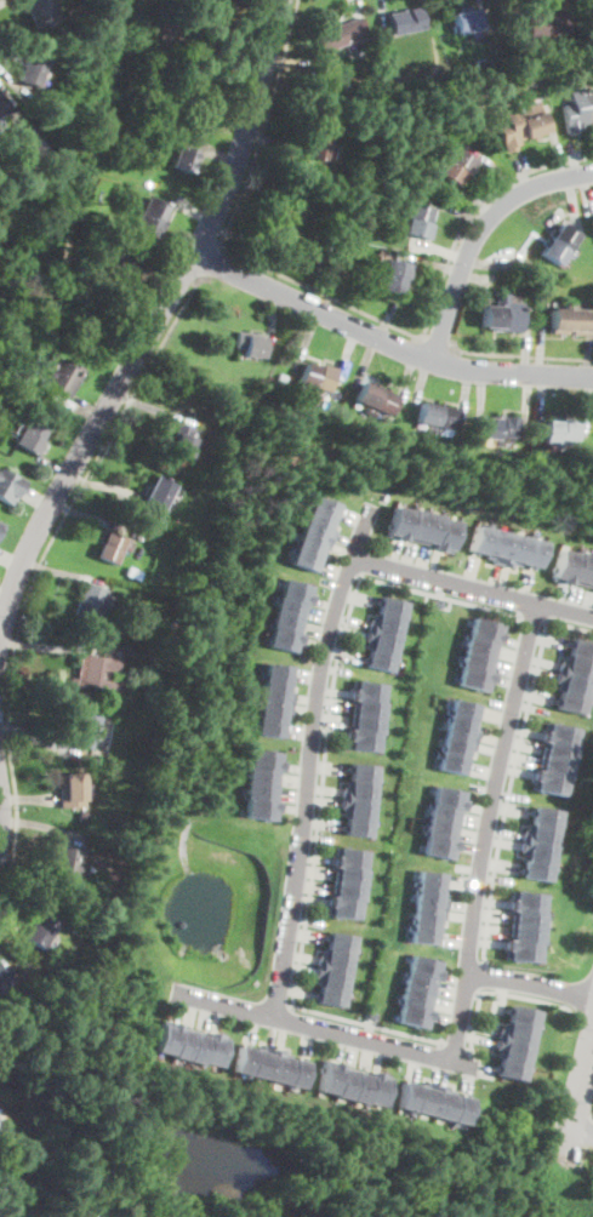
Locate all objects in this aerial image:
road: (2, 1)
road: (483, 4)
road: (353, 6)
building: (39, 8)
road: (509, 15)
road: (382, 16)
building: (549, 19)
building: (406, 21)
building: (468, 21)
building: (341, 35)
building: (213, 41)
building: (572, 47)
building: (491, 62)
building: (479, 63)
building: (32, 65)
road: (245, 65)
building: (395, 79)
building: (520, 81)
road: (238, 84)
road: (5, 90)
building: (201, 97)
building: (588, 103)
building: (2, 105)
building: (575, 113)
building: (532, 120)
building: (511, 128)
building: (321, 136)
building: (33, 138)
road: (219, 154)
road: (286, 155)
road: (558, 155)
building: (182, 159)
building: (461, 159)
road: (574, 159)
road: (495, 168)
building: (450, 171)
road: (523, 175)
building: (423, 178)
road: (587, 194)
road: (571, 200)
road: (475, 201)
road: (195, 210)
building: (421, 211)
road: (462, 212)
building: (152, 218)
building: (592, 219)
building: (280, 223)
building: (416, 225)
building: (314, 229)
road: (477, 234)
building: (564, 236)
road: (243, 239)
road: (438, 248)
building: (554, 251)
building: (341, 256)
building: (121, 259)
road: (212, 262)
road: (431, 262)
road: (497, 263)
building: (397, 267)
road: (162, 276)
road: (477, 279)
building: (392, 281)
road: (326, 293)
building: (511, 315)
building: (491, 316)
road: (272, 318)
road: (388, 318)
building: (560, 319)
building: (578, 320)
road: (154, 325)
road: (437, 339)
road: (306, 341)
road: (387, 342)
building: (250, 343)
building: (85, 347)
road: (540, 349)
road: (349, 350)
road: (526, 350)
road: (519, 353)
road: (587, 355)
road: (365, 356)
building: (36, 370)
building: (308, 375)
road: (406, 376)
building: (63, 377)
building: (324, 377)
road: (420, 382)
building: (366, 395)
road: (478, 396)
road: (526, 398)
road: (586, 399)
road: (541, 400)
building: (382, 402)
building: (243, 405)
road: (153, 407)
road: (87, 410)
building: (428, 415)
building: (446, 418)
building: (507, 427)
building: (491, 428)
building: (553, 432)
building: (568, 432)
building: (32, 435)
building: (182, 441)
building: (198, 464)
road: (55, 465)
road: (104, 484)
building: (8, 485)
building: (159, 492)
road: (36, 498)
building: (320, 505)
road: (86, 515)
road: (350, 516)
building: (160, 520)
building: (398, 520)
building: (0, 524)
building: (317, 524)
building: (416, 524)
building: (432, 527)
building: (447, 533)
road: (344, 539)
building: (481, 541)
building: (310, 543)
building: (498, 545)
building: (110, 548)
road: (341, 549)
building: (517, 550)
building: (534, 552)
road: (395, 553)
road: (407, 556)
building: (301, 558)
road: (11, 559)
road: (423, 560)
road: (434, 564)
building: (565, 565)
building: (582, 566)
road: (331, 570)
road: (38, 571)
road: (473, 571)
road: (63, 572)
building: (132, 573)
building: (591, 575)
road: (495, 578)
road: (503, 581)
road: (327, 583)
road: (526, 584)
road: (471, 585)
road: (443, 587)
building: (291, 589)
road: (5, 594)
road: (563, 595)
road: (355, 598)
road: (576, 598)
building: (91, 600)
road: (427, 600)
road: (589, 601)
road: (320, 602)
building: (439, 602)
building: (393, 605)
building: (285, 606)
road: (451, 606)
road: (317, 615)
road: (348, 619)
road: (535, 619)
building: (281, 622)
building: (386, 622)
road: (346, 628)
building: (486, 628)
road: (313, 629)
building: (280, 638)
road: (549, 638)
building: (382, 640)
road: (310, 641)
road: (515, 641)
building: (480, 644)
road: (47, 646)
building: (582, 647)
road: (343, 653)
road: (513, 653)
building: (381, 659)
building: (477, 659)
road: (541, 659)
building: (576, 665)
building: (275, 669)
road: (335, 669)
road: (509, 669)
road: (540, 670)
building: (98, 672)
road: (307, 676)
building: (475, 676)
road: (507, 680)
building: (572, 684)
building: (274, 689)
building: (367, 690)
road: (333, 691)
road: (536, 693)
road: (304, 699)
building: (571, 702)
road: (502, 703)
road: (333, 704)
building: (369, 707)
building: (463, 707)
road: (530, 707)
building: (272, 708)
road: (302, 709)
road: (497, 714)
road: (331, 719)
building: (367, 722)
building: (268, 726)
building: (461, 726)
road: (525, 730)
building: (86, 731)
road: (298, 731)
road: (327, 731)
building: (560, 733)
road: (39, 735)
building: (363, 738)
road: (492, 738)
road: (523, 743)
building: (457, 745)
road: (490, 748)
building: (559, 750)
road: (308, 756)
building: (263, 758)
road: (519, 758)
building: (452, 762)
building: (555, 765)
road: (327, 766)
road: (295, 767)
road: (484, 770)
road: (514, 770)
building: (361, 771)
road: (515, 771)
building: (260, 776)
road: (292, 779)
building: (548, 781)
road: (319, 782)
building: (357, 789)
building: (73, 790)
building: (258, 790)
road: (320, 790)
road: (483, 790)
road: (290, 795)
road: (509, 795)
building: (447, 796)
road: (28, 798)
road: (320, 800)
building: (257, 807)
road: (289, 807)
building: (354, 807)
road: (479, 807)
road: (511, 810)
road: (0, 812)
building: (441, 815)
building: (546, 816)
building: (82, 817)
road: (474, 819)
road: (320, 822)
road: (41, 824)
building: (355, 825)
road: (2, 827)
building: (439, 830)
road: (486, 830)
road: (503, 832)
building: (540, 834)
road: (473, 836)
road: (314, 838)
road: (502, 841)
road: (471, 846)
building: (438, 847)
building: (537, 852)
building: (348, 856)
road: (313, 858)
building: (69, 863)
road: (501, 864)
road: (468, 868)
building: (536, 869)
road: (313, 870)
building: (347, 874)
building: (431, 879)
road: (496, 879)
road: (464, 882)
road: (309, 886)
building: (346, 890)
building: (429, 897)
road: (307, 899)
building: (528, 899)
road: (494, 902)
building: (342, 905)
road: (462, 905)
road: (461, 914)
road: (492, 914)
building: (427, 916)
building: (528, 916)
road: (304, 920)
building: (40, 927)
road: (491, 929)
building: (526, 931)
building: (423, 933)
road: (11, 935)
road: (304, 935)
road: (457, 938)
building: (340, 939)
road: (487, 942)
building: (521, 948)
road: (298, 956)
building: (333, 958)
road: (4, 961)
building: (424, 965)
road: (297, 967)
road: (484, 975)
building: (4, 977)
building: (330, 977)
road: (455, 978)
building: (420, 981)
road: (531, 982)
road: (297, 988)
road: (452, 990)
road: (504, 992)
road: (501, 994)
building: (330, 995)
building: (416, 996)
road: (449, 1005)
road: (176, 1006)
road: (187, 1012)
building: (412, 1013)
road: (201, 1015)
building: (371, 1015)
road: (215, 1016)
building: (523, 1016)
road: (585, 1018)
road: (445, 1019)
road: (478, 1027)
road: (250, 1028)
road: (272, 1030)
road: (324, 1030)
road: (369, 1030)
building: (515, 1032)
road: (281, 1033)
building: (162, 1035)
road: (475, 1038)
building: (178, 1041)
road: (306, 1041)
road: (454, 1044)
building: (193, 1045)
road: (338, 1046)
building: (210, 1047)
building: (511, 1050)
road: (352, 1053)
road: (363, 1056)
road: (378, 1056)
building: (241, 1058)
building: (258, 1059)
building: (278, 1064)
road: (412, 1067)
road: (434, 1069)
building: (509, 1069)
building: (295, 1070)
road: (484, 1070)
road: (444, 1072)
building: (326, 1075)
road: (466, 1080)
building: (343, 1082)
building: (358, 1086)
building: (375, 1086)
building: (405, 1095)
building: (423, 1096)
road: (575, 1097)
building: (441, 1101)
building: (458, 1108)
road: (592, 1116)
building: (2, 1120)
road: (580, 1127)
building: (0, 1129)
road: (587, 1132)
road: (581, 1156)
building: (7, 1188)

